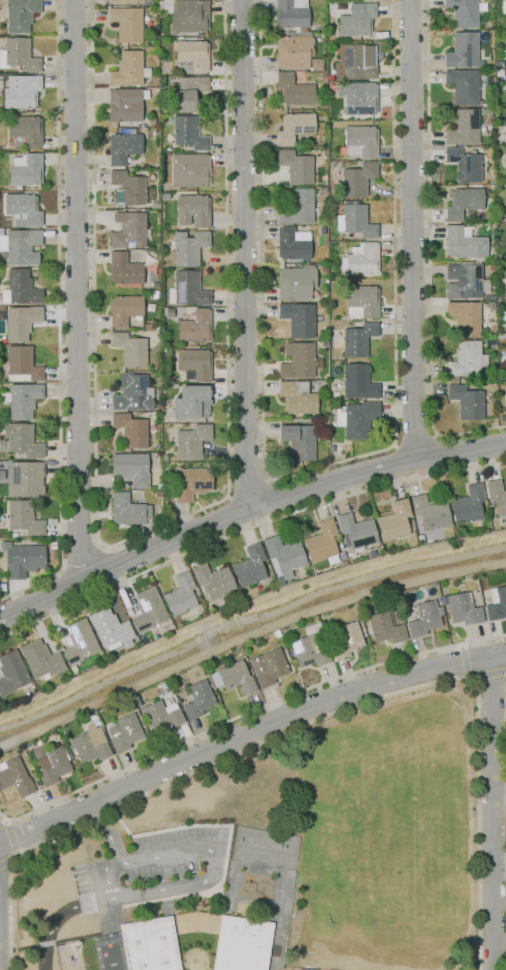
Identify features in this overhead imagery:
building: (126, 1)
building: (504, 7)
building: (463, 12)
building: (291, 14)
building: (19, 15)
building: (189, 16)
building: (357, 21)
building: (127, 23)
building: (462, 50)
building: (292, 51)
building: (18, 55)
building: (192, 56)
building: (353, 63)
building: (128, 70)
building: (504, 83)
building: (462, 86)
building: (294, 90)
building: (22, 93)
building: (185, 93)
building: (360, 99)
building: (125, 104)
building: (150, 122)
building: (293, 128)
building: (463, 128)
building: (26, 130)
building: (188, 133)
building: (360, 142)
building: (123, 147)
building: (504, 160)
building: (464, 165)
building: (296, 167)
building: (25, 170)
building: (189, 170)
building: (356, 179)
building: (127, 188)
building: (505, 194)
building: (462, 202)
building: (154, 205)
building: (297, 207)
building: (22, 210)
building: (192, 210)
building: (355, 220)
building: (128, 229)
road: (412, 230)
building: (460, 243)
building: (292, 244)
building: (19, 246)
building: (187, 247)
road: (428, 252)
road: (243, 254)
building: (360, 260)
building: (323, 268)
building: (123, 269)
building: (466, 281)
building: (295, 283)
building: (19, 289)
road: (77, 289)
building: (186, 289)
building: (479, 298)
building: (361, 302)
building: (489, 305)
building: (124, 310)
building: (503, 315)
road: (57, 318)
building: (464, 318)
building: (298, 319)
building: (19, 322)
building: (195, 326)
building: (491, 326)
building: (499, 335)
building: (356, 339)
building: (129, 349)
building: (466, 360)
building: (298, 362)
building: (20, 365)
building: (194, 365)
building: (357, 382)
building: (132, 393)
building: (505, 396)
building: (296, 397)
building: (21, 399)
building: (192, 402)
building: (465, 402)
building: (356, 419)
building: (130, 430)
road: (434, 435)
building: (191, 441)
building: (298, 441)
building: (19, 442)
road: (415, 442)
road: (395, 446)
building: (131, 468)
road: (314, 468)
building: (25, 478)
road: (266, 478)
building: (191, 483)
road: (248, 489)
road: (228, 497)
building: (497, 497)
building: (468, 506)
building: (128, 510)
road: (246, 511)
building: (429, 515)
building: (23, 518)
building: (393, 521)
road: (246, 530)
building: (356, 531)
road: (141, 534)
building: (420, 540)
building: (2, 542)
building: (321, 543)
road: (102, 547)
building: (2, 550)
building: (283, 558)
building: (24, 560)
road: (82, 560)
building: (249, 567)
road: (61, 572)
building: (212, 581)
building: (180, 595)
building: (496, 603)
building: (462, 609)
building: (147, 610)
building: (424, 619)
building: (386, 626)
building: (109, 629)
building: (276, 633)
road: (246, 635)
building: (346, 641)
building: (79, 642)
building: (308, 652)
building: (40, 659)
road: (463, 660)
building: (271, 668)
building: (11, 672)
road: (489, 676)
building: (232, 677)
building: (135, 698)
building: (198, 699)
road: (245, 712)
building: (162, 715)
road: (320, 716)
building: (123, 733)
road: (246, 733)
building: (89, 744)
building: (51, 766)
building: (15, 777)
road: (490, 813)
park: (388, 819)
road: (10, 833)
road: (107, 834)
road: (4, 865)
parking lot: (152, 869)
road: (197, 883)
building: (149, 944)
building: (241, 944)

